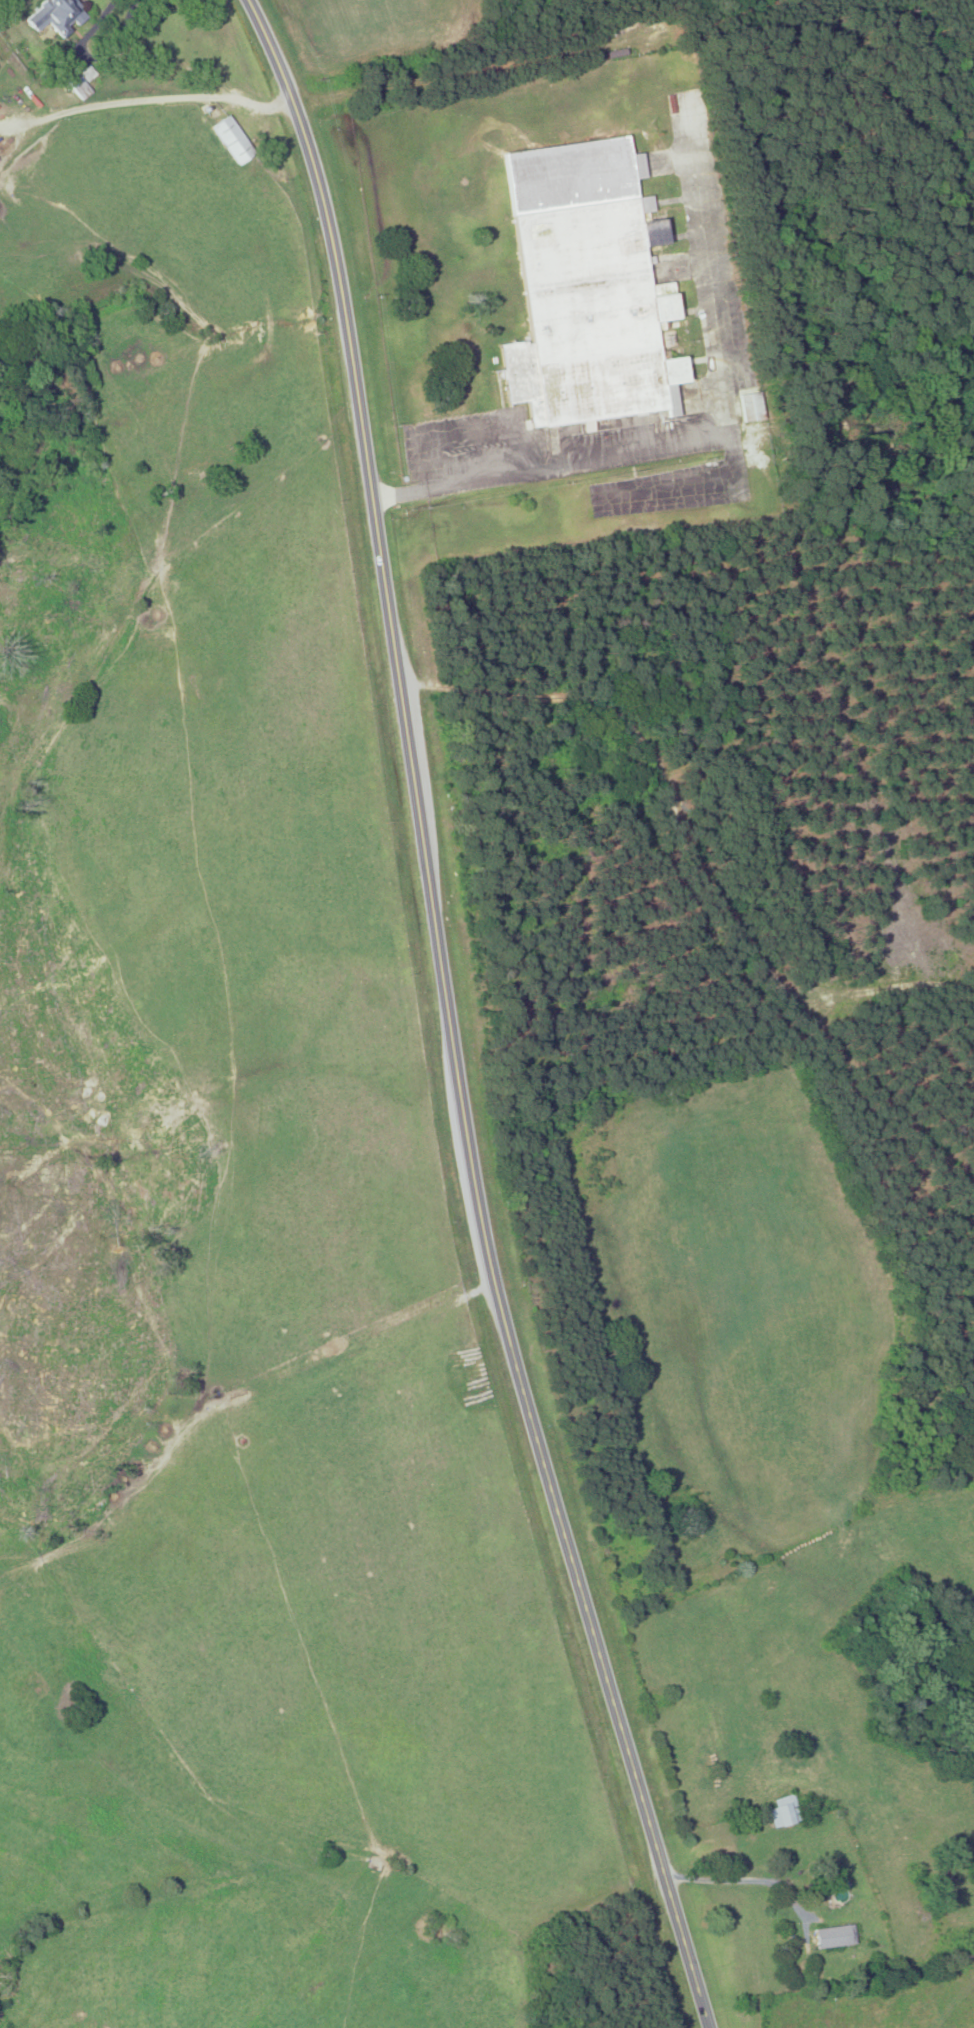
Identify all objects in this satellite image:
building: (58, 16)
building: (234, 140)
building: (0, 161)
building: (588, 286)
road: (542, 470)
road: (449, 1019)
building: (785, 1811)
road: (735, 1879)
building: (834, 1936)

